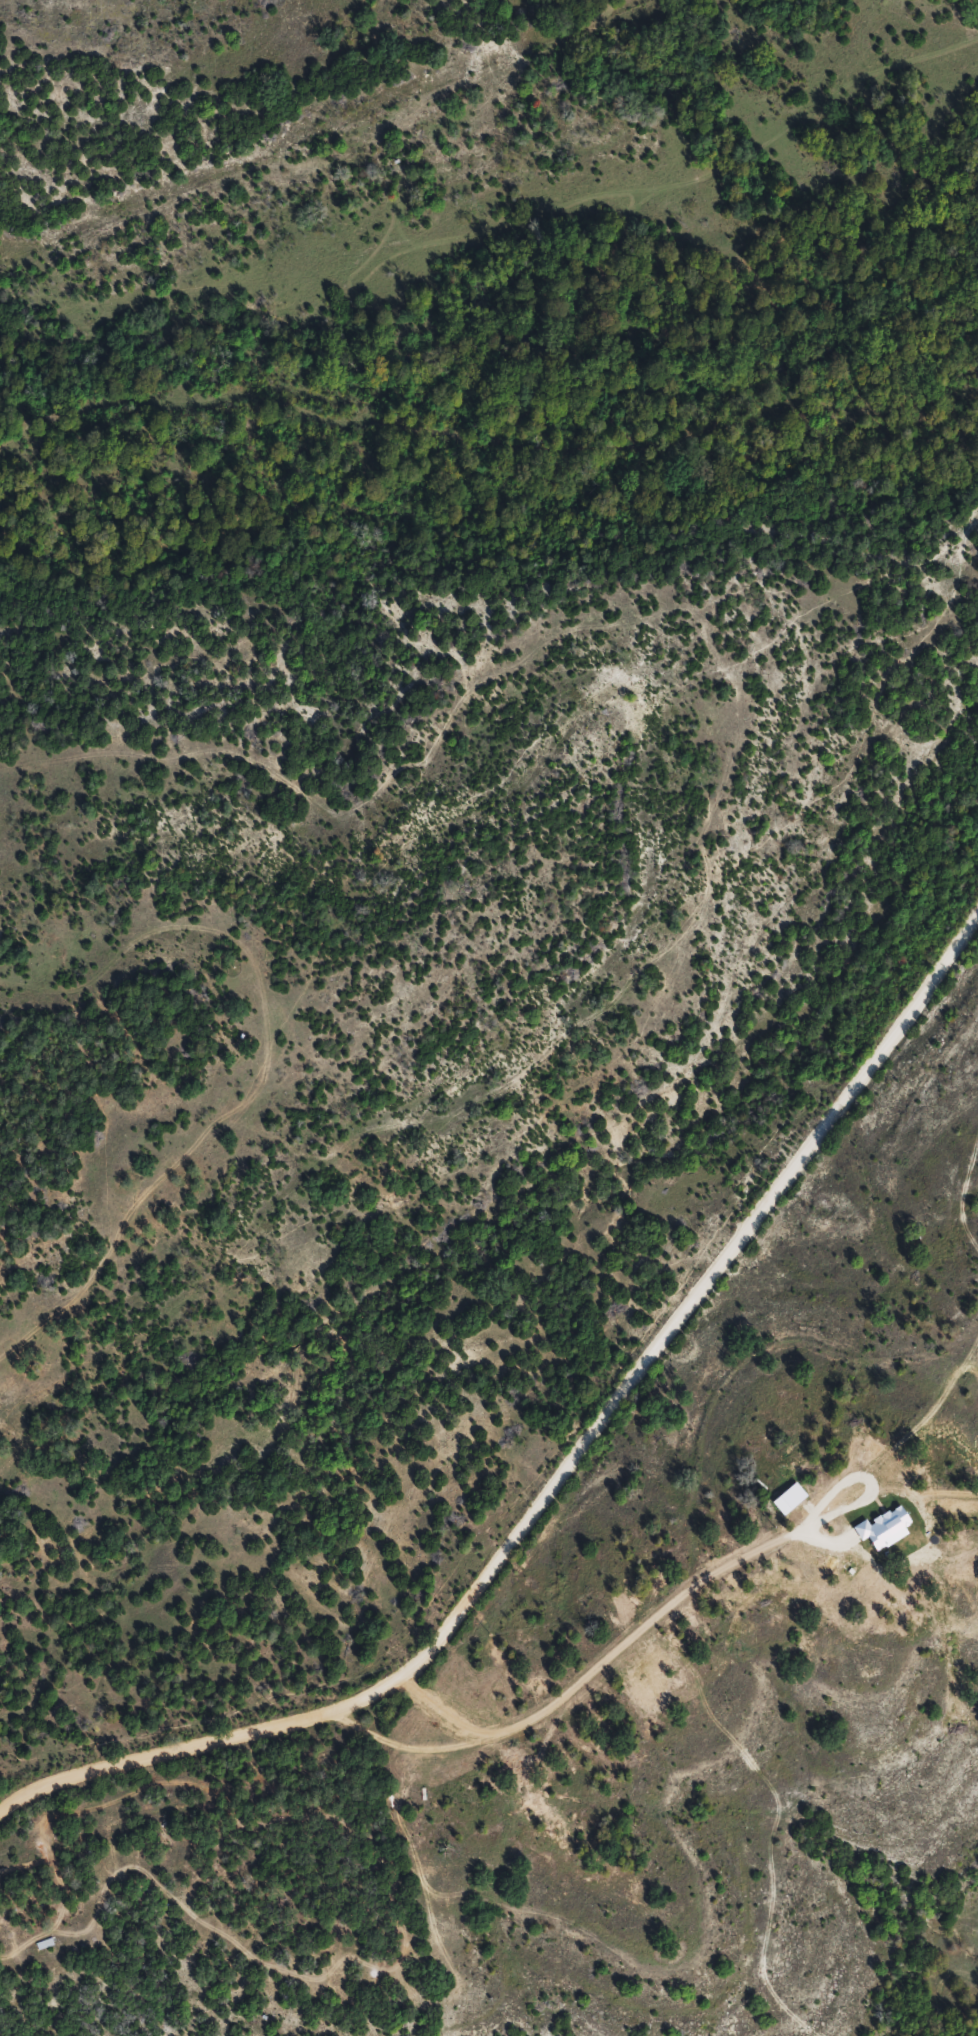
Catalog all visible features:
road: (567, 1460)

